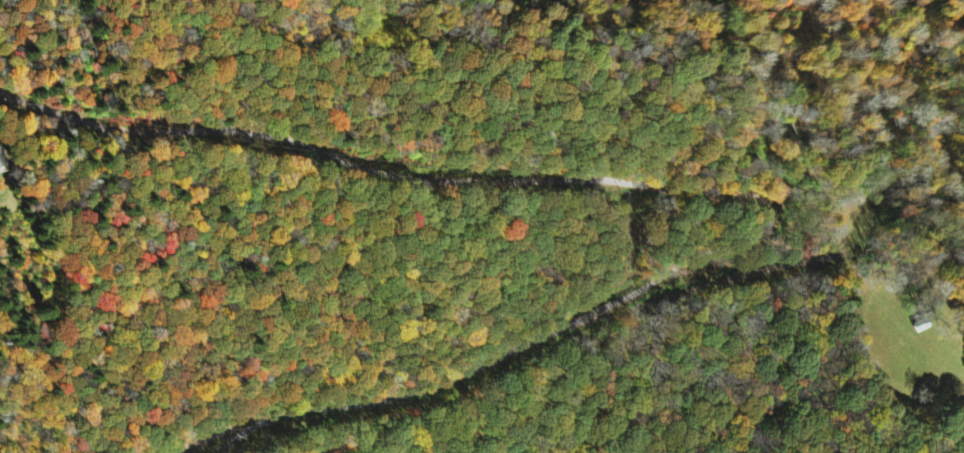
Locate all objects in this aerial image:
road: (689, 190)

